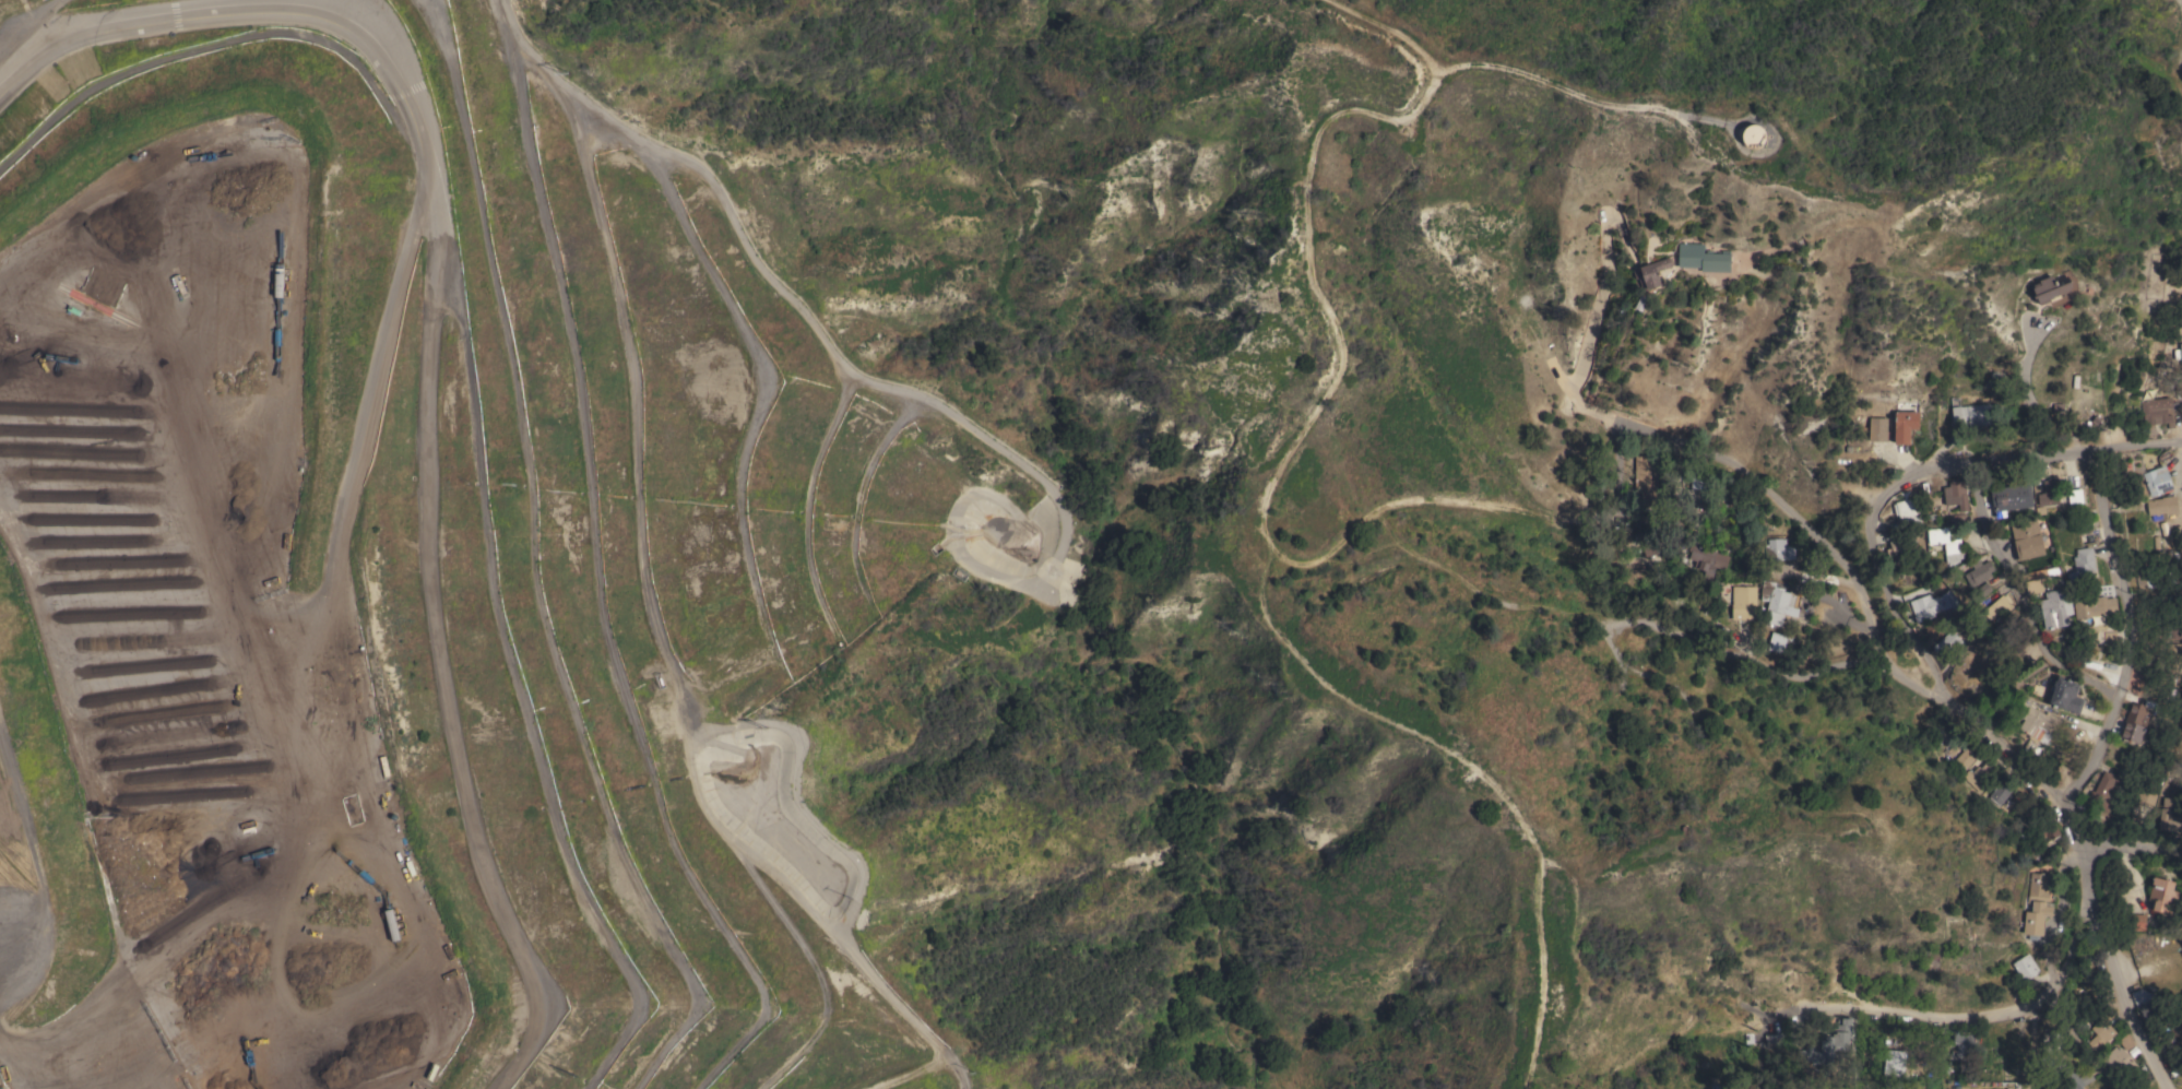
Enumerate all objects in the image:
road: (27, 27)
road: (1578, 84)
building: (1769, 135)
building: (1754, 137)
road: (1765, 178)
building: (1703, 258)
building: (1651, 272)
road: (1309, 279)
building: (2051, 288)
road: (782, 289)
road: (1597, 307)
building: (2181, 352)
road: (426, 370)
road: (2028, 388)
road: (370, 411)
building: (2157, 413)
building: (1971, 415)
building: (1905, 426)
building: (1877, 429)
road: (2134, 445)
road: (1941, 462)
building: (1647, 477)
building: (2157, 481)
road: (1616, 488)
building: (2049, 493)
building: (1955, 495)
building: (2075, 496)
building: (2012, 497)
road: (1780, 506)
building: (2162, 506)
building: (1907, 510)
road: (1397, 534)
building: (2027, 540)
building: (1902, 544)
building: (1946, 544)
building: (1650, 547)
building: (1779, 549)
building: (1704, 560)
building: (2083, 566)
landfill: (439, 572)
building: (1978, 572)
building: (2146, 579)
building: (2033, 585)
road: (2015, 591)
building: (1743, 602)
building: (1932, 604)
building: (1779, 605)
building: (2095, 606)
building: (1999, 607)
building: (2055, 608)
road: (1843, 617)
building: (1936, 626)
road: (2127, 629)
building: (1777, 642)
building: (1949, 644)
road: (1768, 666)
building: (2066, 695)
road: (1938, 697)
road: (1954, 706)
building: (2037, 722)
building: (2135, 722)
building: (1965, 757)
building: (1980, 776)
building: (2102, 792)
building: (1999, 794)
building: (2146, 796)
building: (2172, 796)
building: (2170, 820)
building: (2047, 830)
road: (2077, 844)
building: (2162, 893)
building: (2037, 903)
building: (2135, 921)
building: (1931, 957)
building: (2025, 967)
road: (2125, 989)
building: (2147, 1007)
road: (1984, 1018)
road: (1846, 1032)
building: (2101, 1034)
road: (1946, 1037)
building: (1987, 1038)
building: (1775, 1040)
building: (2126, 1041)
building: (1962, 1043)
building: (1828, 1044)
road: (2079, 1045)
road: (1906, 1053)
building: (2014, 1058)
building: (1894, 1062)
building: (2119, 1062)
building: (2071, 1076)
building: (1722, 1088)

